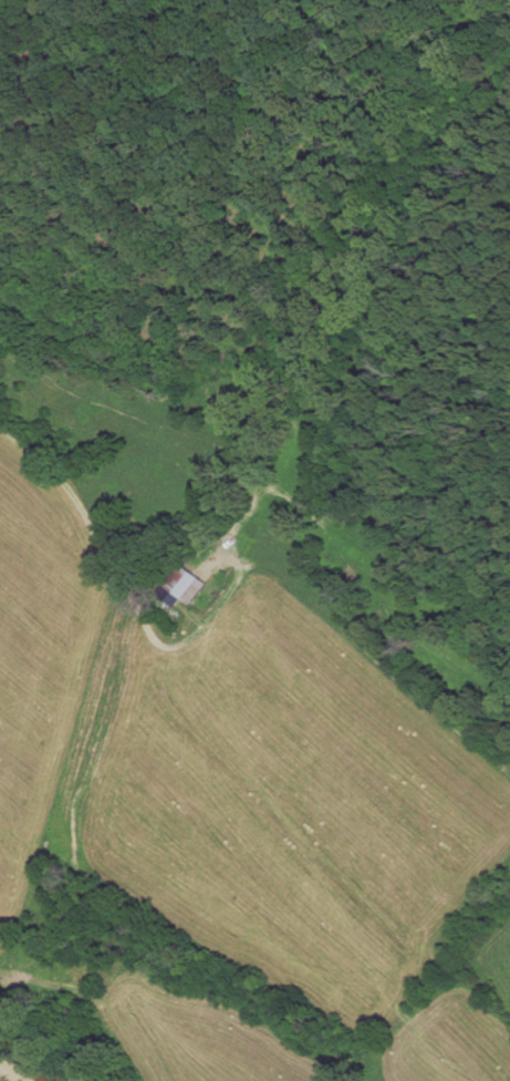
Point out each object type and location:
building: (194, 586)

